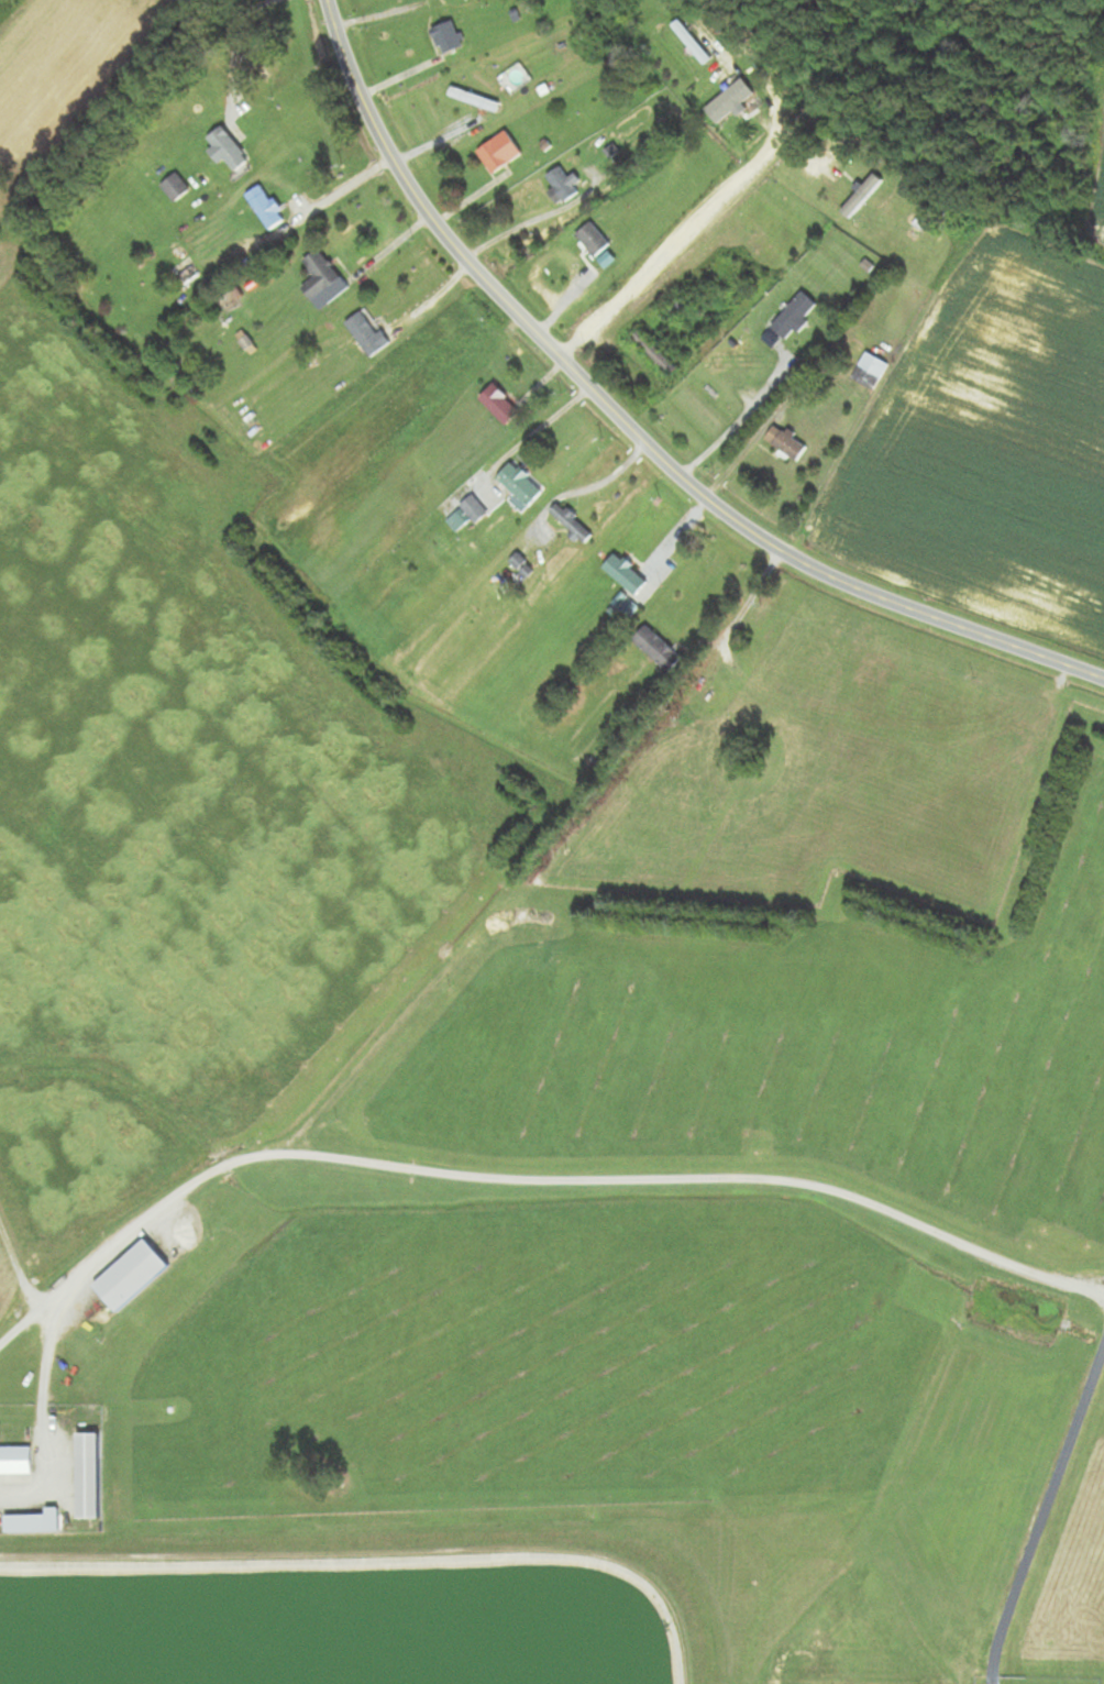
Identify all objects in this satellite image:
building: (448, 36)
building: (693, 42)
building: (709, 85)
building: (475, 98)
road: (439, 139)
building: (229, 148)
building: (500, 151)
building: (565, 184)
building: (177, 186)
road: (343, 188)
building: (861, 197)
building: (267, 206)
road: (531, 220)
building: (594, 239)
road: (669, 249)
building: (323, 278)
building: (795, 316)
building: (367, 333)
building: (655, 352)
building: (870, 371)
building: (501, 405)
road: (739, 420)
road: (634, 430)
road: (529, 436)
building: (786, 443)
building: (521, 485)
road: (589, 487)
building: (475, 509)
building: (459, 520)
building: (573, 522)
building: (519, 563)
building: (627, 575)
building: (659, 649)
building: (133, 1275)
building: (16, 1461)
building: (90, 1476)
building: (35, 1523)

